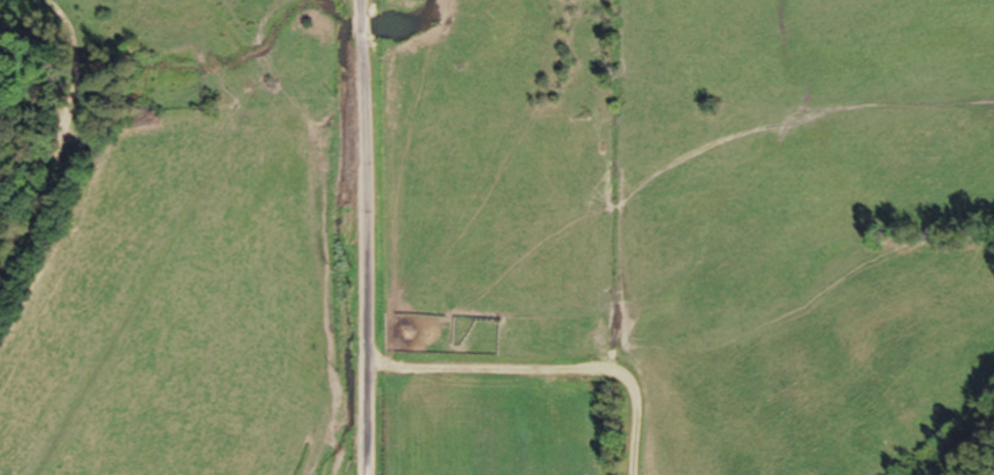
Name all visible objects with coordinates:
road: (366, 237)

